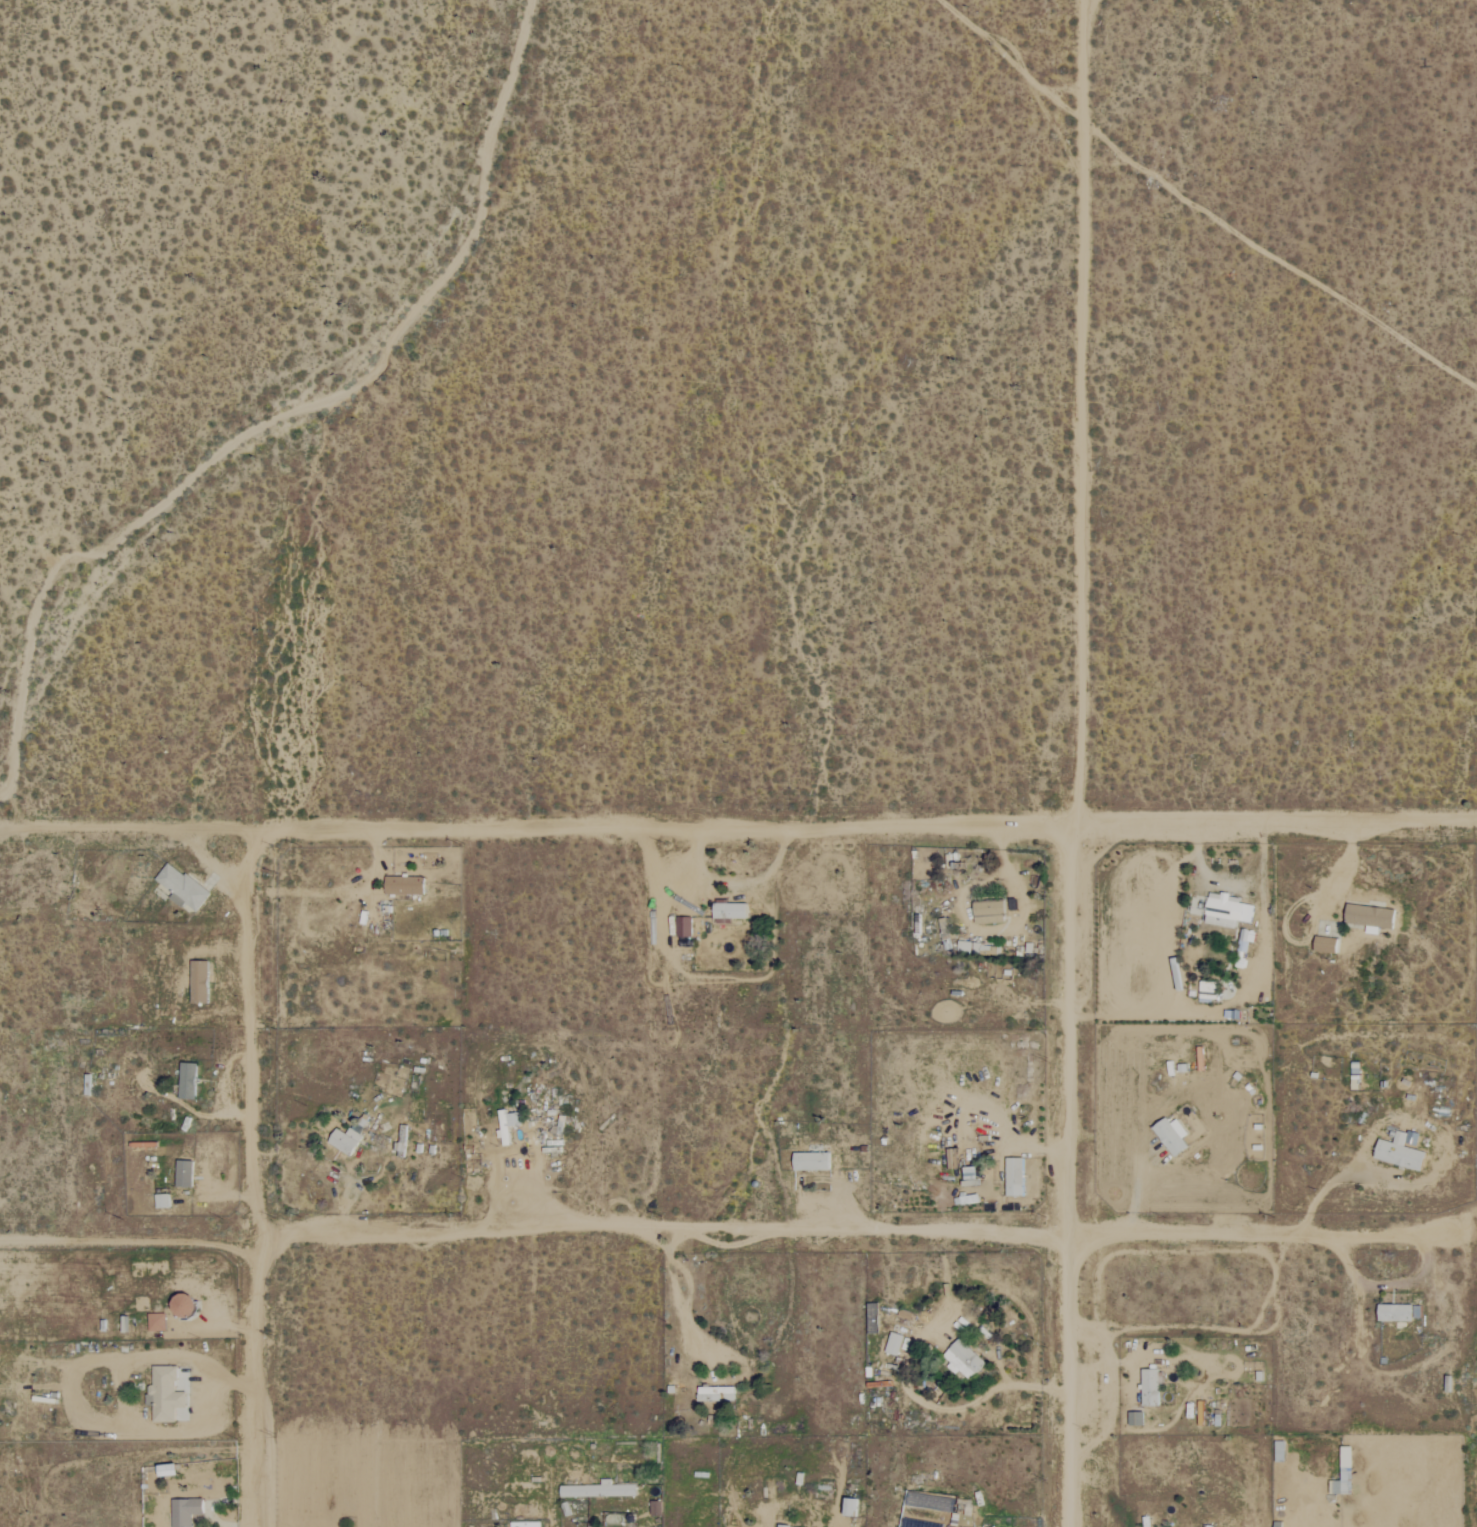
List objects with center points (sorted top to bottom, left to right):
road: (1073, 763)
road: (1275, 824)
road: (665, 830)
road: (128, 831)
building: (407, 885)
building: (185, 887)
building: (1225, 911)
building: (732, 912)
building: (993, 912)
building: (1367, 916)
building: (687, 927)
building: (1245, 940)
building: (971, 947)
building: (203, 982)
building: (1206, 992)
building: (191, 1081)
building: (508, 1127)
building: (1169, 1135)
building: (348, 1141)
building: (1396, 1153)
building: (956, 1158)
building: (815, 1161)
building: (187, 1174)
building: (1017, 1177)
road: (260, 1179)
road: (499, 1184)
road: (1326, 1185)
building: (165, 1201)
road: (345, 1207)
road: (730, 1236)
road: (676, 1298)
building: (1393, 1313)
building: (159, 1322)
building: (897, 1344)
building: (966, 1360)
building: (1148, 1388)
building: (170, 1393)
building: (719, 1394)
building: (602, 1490)
road: (217, 1502)
building: (853, 1507)
building: (188, 1511)
building: (788, 1526)

